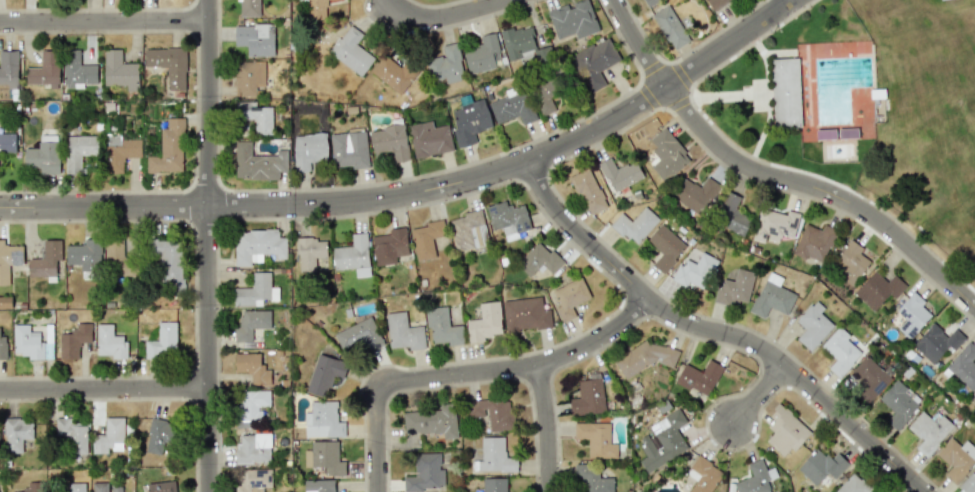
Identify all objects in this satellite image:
building: (941, 0)
building: (649, 1)
building: (717, 3)
building: (248, 8)
building: (317, 9)
road: (443, 17)
building: (573, 20)
road: (104, 23)
building: (670, 27)
building: (255, 38)
building: (517, 41)
building: (351, 50)
building: (483, 54)
building: (594, 63)
building: (169, 65)
building: (446, 65)
building: (8, 68)
building: (45, 69)
building: (78, 70)
building: (119, 70)
building: (395, 74)
building: (249, 77)
building: (785, 92)
building: (545, 97)
building: (512, 106)
park: (859, 113)
building: (255, 115)
building: (469, 121)
building: (429, 139)
building: (390, 141)
building: (7, 142)
building: (168, 149)
building: (349, 149)
building: (309, 150)
building: (79, 151)
building: (120, 152)
building: (667, 154)
building: (43, 157)
building: (257, 162)
building: (620, 174)
road: (772, 177)
road: (419, 190)
building: (588, 191)
building: (695, 194)
rooftop solar panel: (493, 208)
building: (732, 215)
building: (508, 219)
rooftop solar panel: (527, 224)
building: (635, 225)
building: (774, 225)
rooftop solar panel: (518, 226)
building: (468, 230)
building: (426, 239)
building: (814, 242)
road: (209, 245)
building: (257, 246)
building: (390, 246)
building: (665, 247)
building: (310, 253)
building: (82, 254)
building: (353, 255)
building: (119, 257)
building: (9, 259)
building: (47, 260)
building: (539, 260)
building: (169, 262)
building: (850, 262)
building: (695, 271)
building: (735, 287)
building: (878, 289)
building: (256, 291)
building: (772, 296)
building: (570, 297)
building: (5, 302)
rooftop solar panel: (903, 310)
rooftop solar panel: (906, 312)
rooftop solar panel: (910, 313)
building: (526, 314)
building: (912, 315)
building: (485, 322)
rooftop solar panel: (908, 322)
building: (251, 324)
building: (813, 325)
building: (442, 326)
rooftop solar panel: (911, 330)
building: (403, 332)
road: (718, 332)
building: (359, 335)
building: (74, 340)
building: (162, 341)
building: (110, 342)
building: (936, 342)
building: (30, 343)
building: (3, 347)
building: (840, 351)
building: (644, 357)
building: (964, 366)
building: (252, 367)
building: (325, 373)
road: (471, 376)
building: (699, 377)
building: (869, 378)
road: (105, 390)
road: (761, 395)
building: (588, 397)
building: (251, 406)
building: (492, 412)
building: (323, 420)
building: (431, 421)
road: (545, 429)
building: (785, 431)
building: (929, 431)
building: (17, 434)
building: (73, 435)
building: (159, 435)
building: (109, 436)
building: (596, 439)
building: (663, 441)
building: (254, 447)
building: (493, 456)
building: (324, 457)
building: (956, 458)
building: (822, 466)
building: (425, 472)
building: (703, 475)
building: (756, 478)
building: (591, 479)
building: (254, 480)
building: (494, 484)
building: (969, 484)
building: (320, 485)
building: (854, 485)
building: (77, 487)
building: (105, 487)
building: (159, 487)
building: (27, 490)

